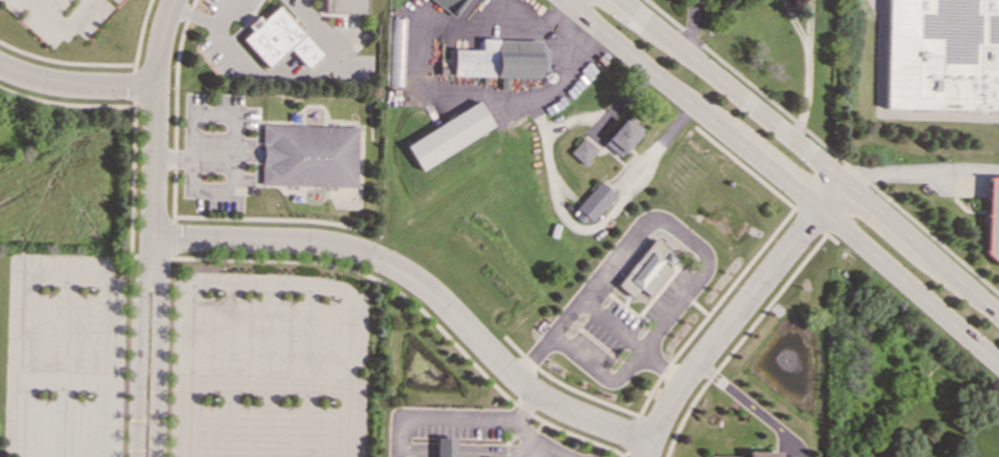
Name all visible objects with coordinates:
building: (449, 5)
building: (345, 6)
road: (225, 12)
road: (59, 25)
road: (217, 25)
road: (794, 25)
road: (807, 25)
road: (316, 26)
road: (690, 27)
road: (139, 35)
parking lot: (227, 36)
building: (278, 39)
building: (396, 51)
building: (944, 55)
building: (500, 59)
road: (64, 61)
road: (287, 66)
road: (310, 73)
road: (76, 86)
road: (131, 86)
road: (804, 96)
road: (65, 102)
road: (174, 106)
road: (884, 113)
road: (154, 116)
road: (234, 126)
building: (448, 135)
building: (621, 135)
road: (824, 145)
building: (582, 151)
building: (308, 155)
road: (812, 155)
road: (920, 170)
road: (781, 180)
building: (593, 201)
road: (563, 209)
road: (275, 219)
road: (808, 219)
building: (992, 220)
road: (171, 239)
road: (262, 240)
road: (690, 242)
road: (329, 263)
road: (746, 266)
building: (645, 269)
road: (66, 274)
road: (271, 281)
road: (735, 312)
road: (610, 323)
road: (744, 333)
road: (139, 345)
road: (158, 345)
parking lot: (183, 361)
road: (503, 363)
road: (24, 365)
road: (63, 365)
road: (103, 365)
road: (661, 365)
road: (190, 368)
road: (229, 368)
road: (269, 369)
road: (306, 369)
road: (347, 374)
road: (575, 390)
road: (751, 407)
road: (454, 419)
road: (539, 425)
road: (523, 428)
road: (524, 432)
road: (394, 437)
road: (509, 440)
road: (533, 446)
building: (444, 447)
road: (506, 451)
road: (634, 453)
building: (753, 454)
building: (955, 456)
building: (956, 456)

